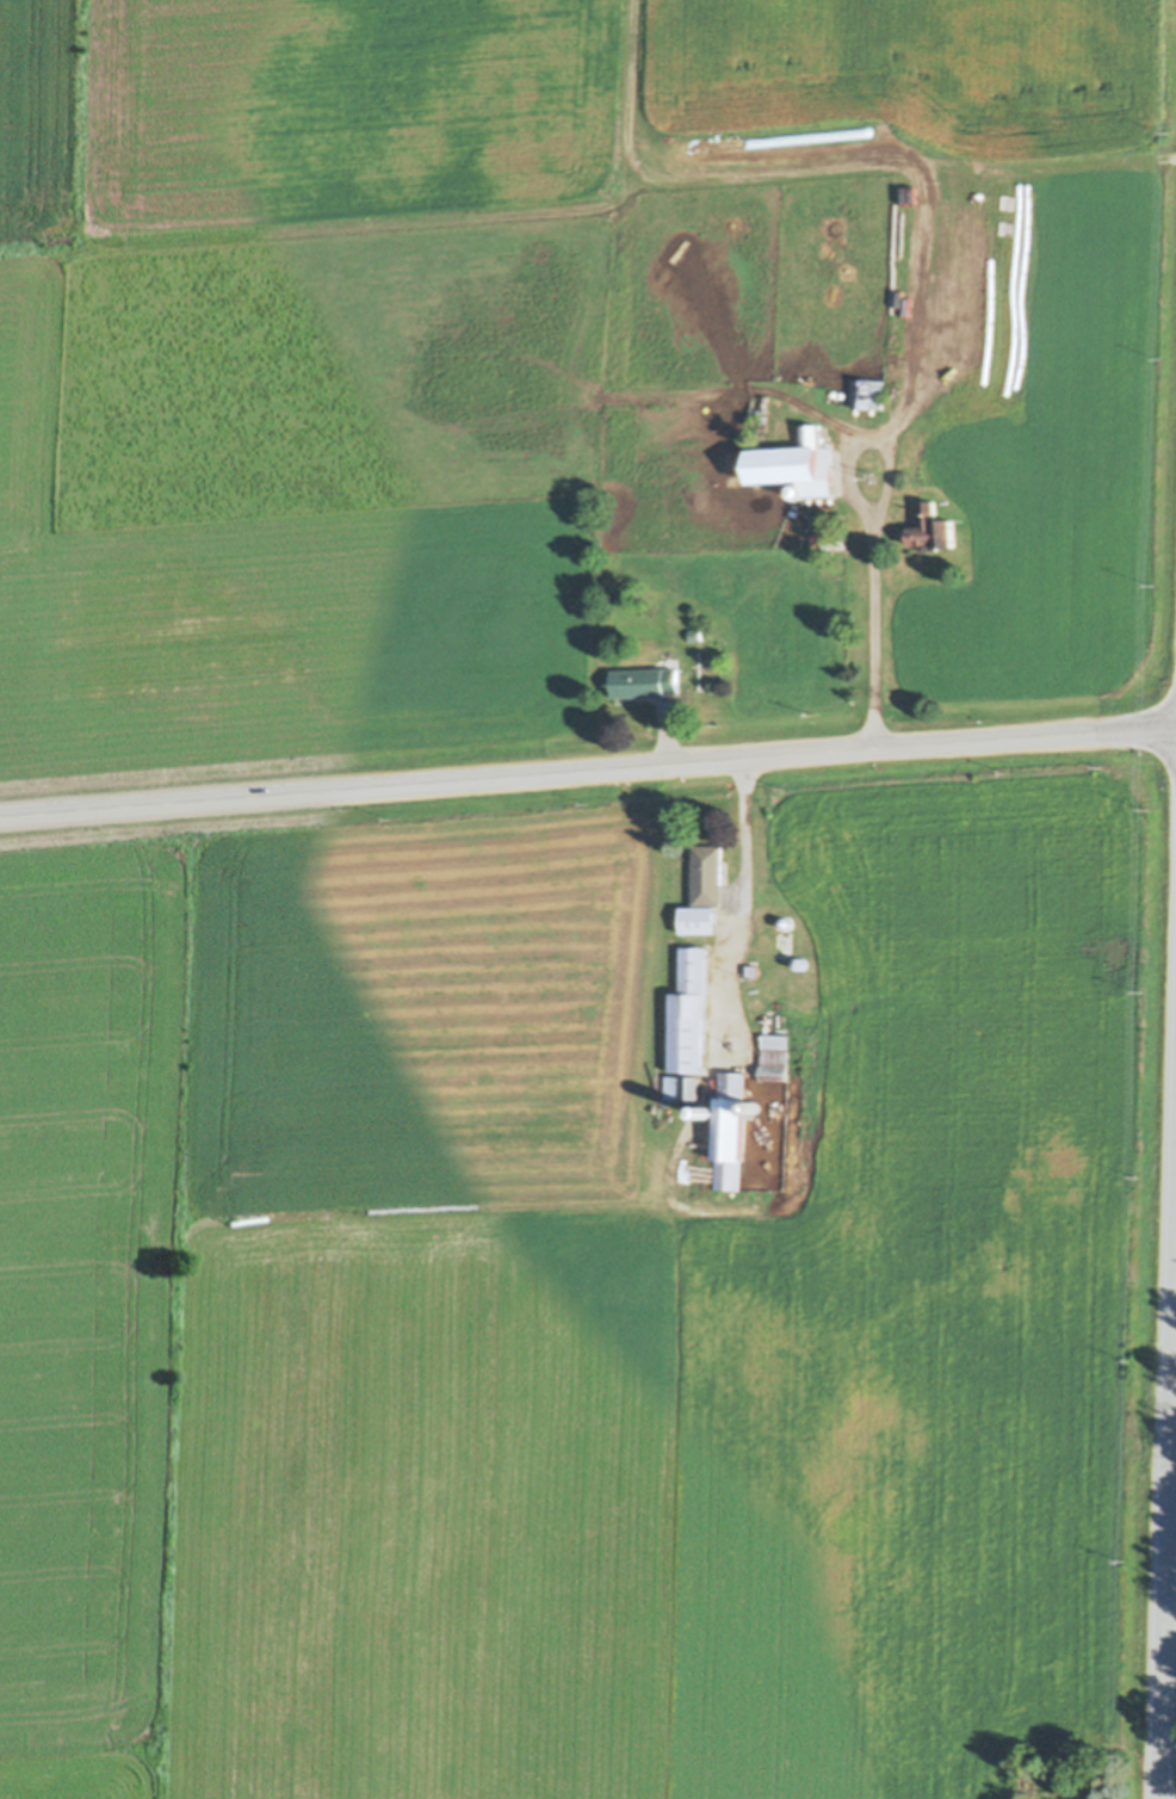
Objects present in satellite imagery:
road: (776, 169)
road: (915, 173)
building: (868, 389)
building: (767, 402)
crop: (204, 407)
building: (798, 459)
road: (842, 463)
road: (884, 469)
building: (934, 525)
building: (836, 537)
building: (818, 538)
road: (868, 622)
building: (694, 632)
building: (644, 679)
road: (587, 762)
building: (708, 872)
road: (734, 901)
building: (699, 916)
building: (786, 919)
building: (786, 934)
building: (801, 960)
building: (753, 967)
building: (689, 1010)
building: (774, 1055)
building: (682, 1084)
building: (754, 1103)
building: (708, 1109)
building: (731, 1127)
crop: (561, 1324)
road: (1166, 1506)

